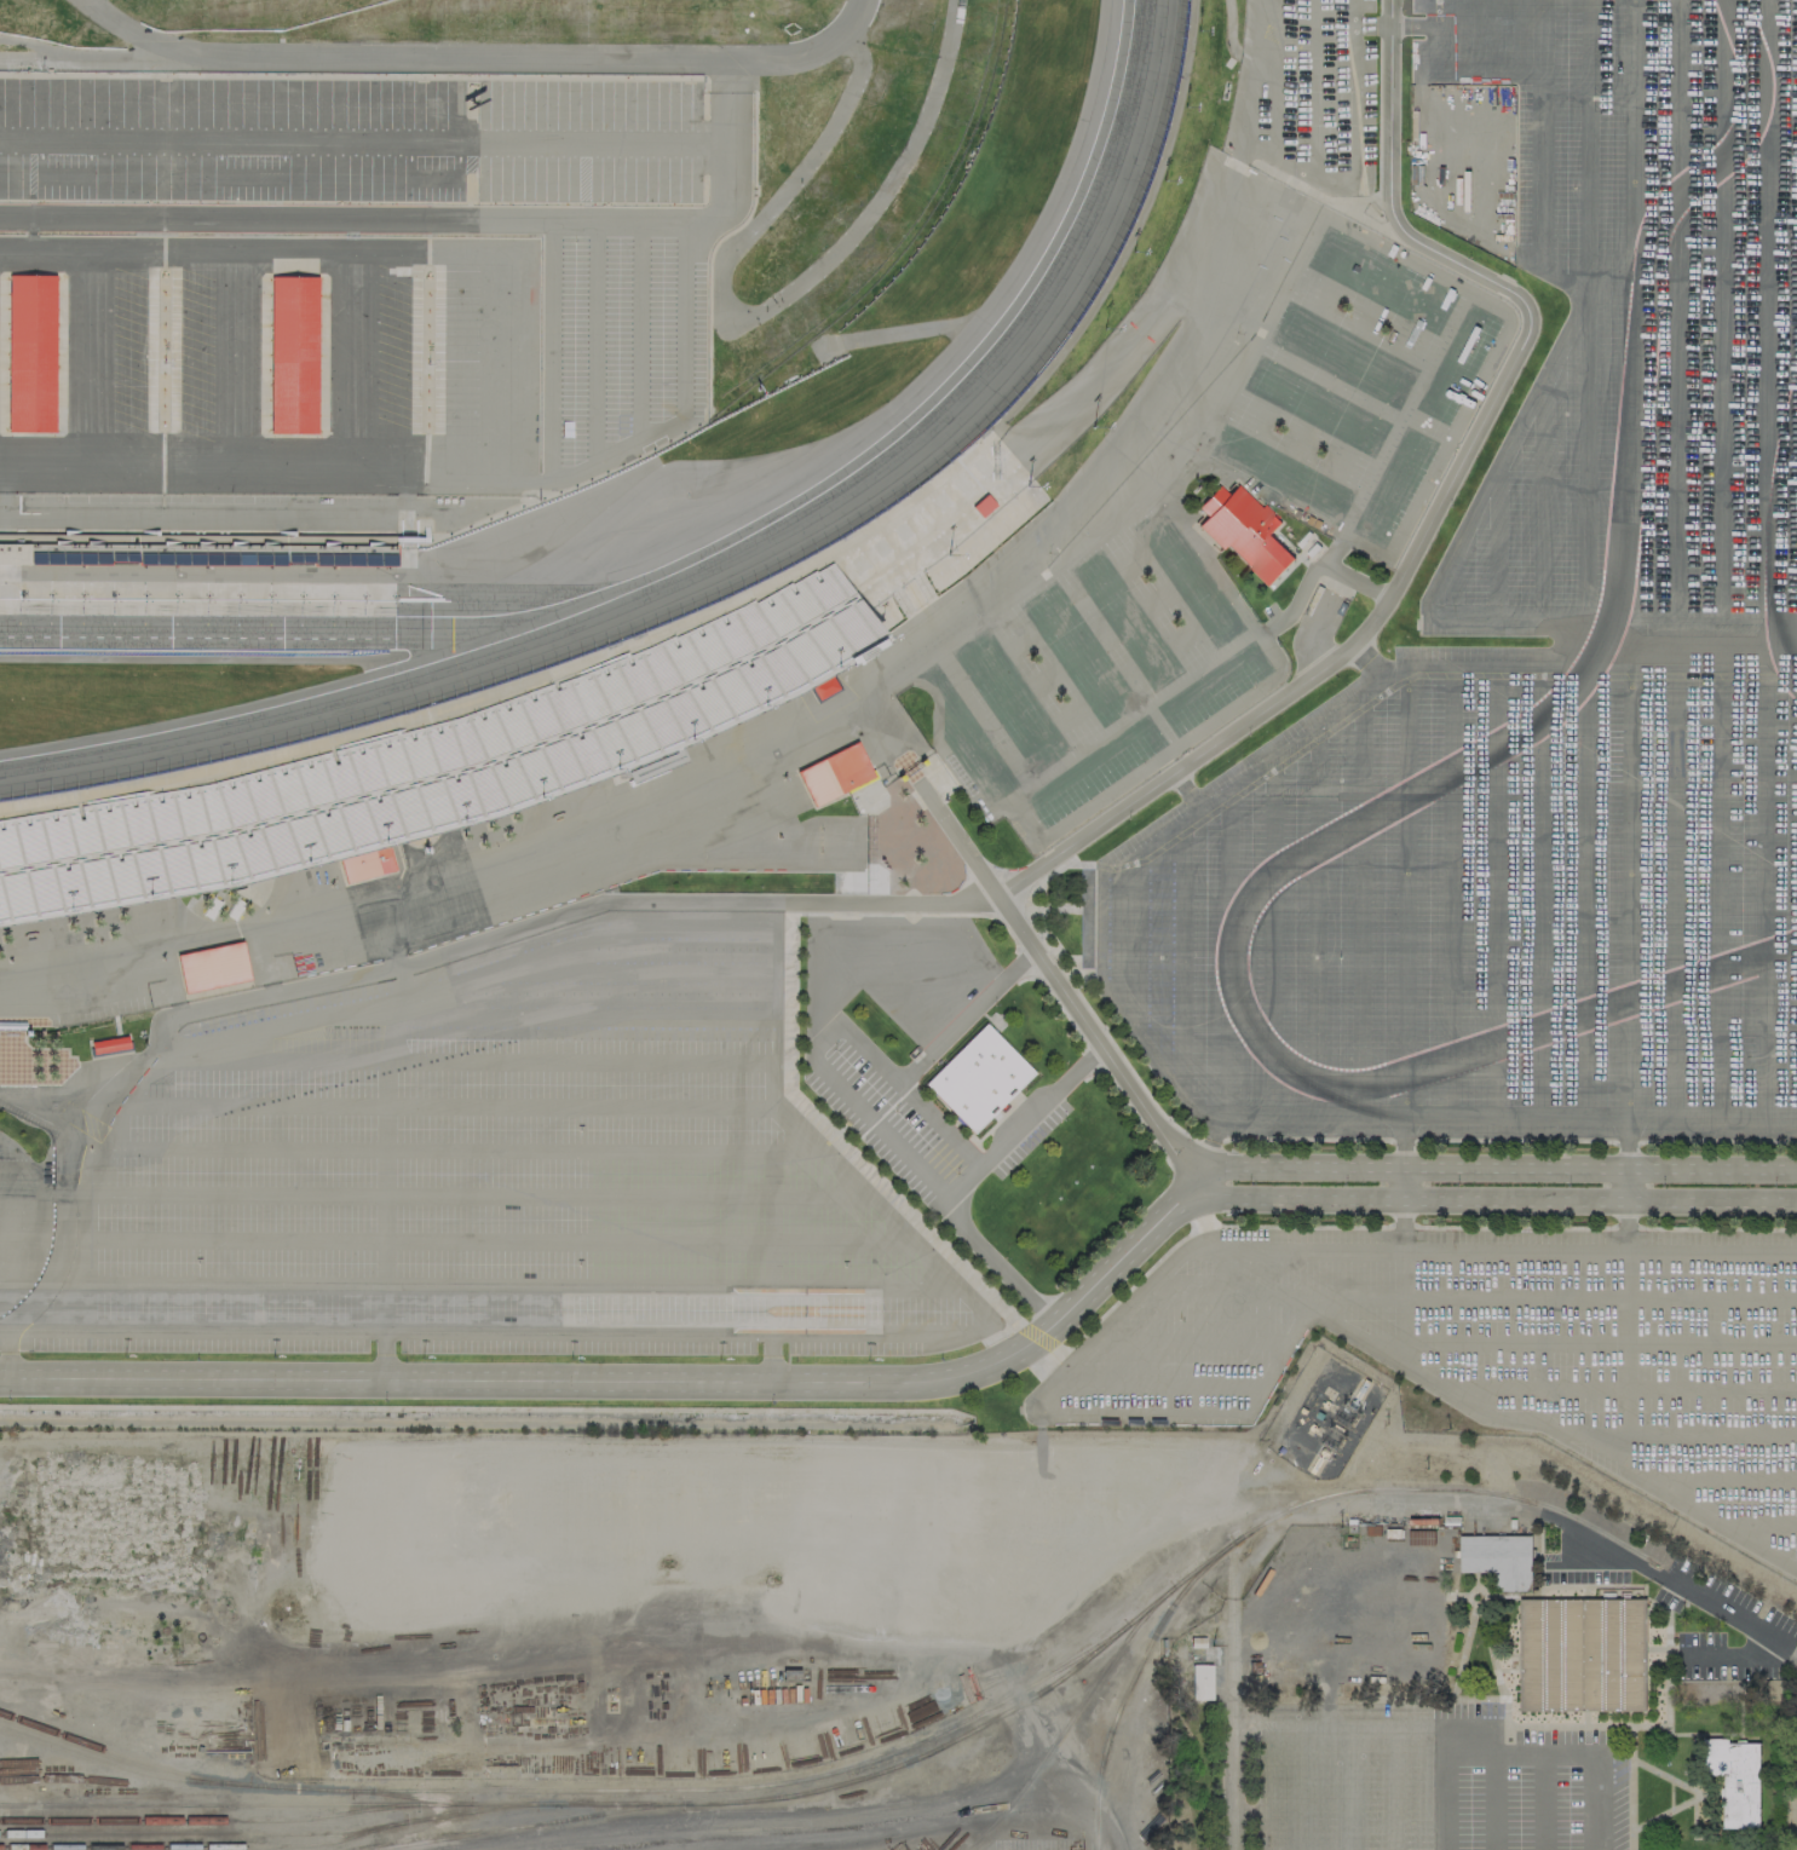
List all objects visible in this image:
road: (1334, 24)
road: (1399, 25)
road: (91, 53)
road: (479, 57)
road: (349, 74)
road: (702, 83)
road: (1274, 85)
parking lot: (1304, 91)
road: (465, 108)
parking lot: (349, 138)
road: (362, 142)
road: (1304, 159)
road: (29, 169)
road: (466, 172)
road: (581, 173)
road: (1296, 173)
road: (64, 174)
road: (250, 177)
road: (433, 178)
road: (405, 201)
road: (439, 217)
road: (29, 232)
road: (402, 234)
road: (350, 235)
road: (528, 236)
road: (29, 240)
road: (350, 242)
road: (516, 243)
road: (367, 248)
road: (765, 307)
road: (682, 319)
road: (937, 325)
road: (638, 329)
parking lot: (624, 338)
road: (593, 340)
parking lot: (160, 348)
road: (547, 348)
parking lot: (424, 350)
building: (28, 355)
building: (290, 355)
road: (85, 362)
road: (230, 363)
road: (350, 363)
road: (425, 364)
road: (160, 381)
road: (610, 455)
road: (267, 478)
road: (1, 496)
road: (404, 500)
road: (1438, 503)
road: (221, 518)
building: (1242, 531)
road: (403, 540)
building: (197, 551)
raceway: (722, 569)
road: (1, 575)
road: (232, 581)
raceway: (1781, 592)
raceway: (284, 633)
parking lot: (1540, 676)
building: (820, 684)
building: (517, 720)
building: (831, 772)
road: (1182, 783)
raceway: (1416, 789)
building: (363, 860)
road: (837, 914)
road: (910, 915)
road: (710, 924)
road: (933, 926)
road: (399, 964)
building: (211, 966)
road: (630, 968)
road: (1056, 982)
road: (964, 1016)
road: (392, 1038)
building: (106, 1043)
road: (865, 1053)
road: (220, 1062)
building: (1796, 1068)
building: (1733, 1071)
building: (975, 1076)
road: (1676, 1077)
road: (1630, 1084)
road: (1580, 1100)
road: (119, 1105)
road: (1688, 1113)
road: (100, 1135)
road: (463, 1148)
road: (106, 1168)
road: (1296, 1168)
parking lot: (496, 1171)
road: (1600, 1172)
road: (966, 1180)
road: (1404, 1183)
road: (1625, 1185)
road: (601, 1194)
road: (382, 1197)
road: (1493, 1197)
road: (499, 1240)
road: (768, 1241)
road: (1204, 1250)
road: (520, 1284)
road: (1468, 1296)
road: (1066, 1309)
road: (398, 1331)
road: (1354, 1336)
road: (1188, 1341)
road: (1600, 1342)
parking lot: (1490, 1347)
road: (8, 1350)
road: (382, 1355)
road: (768, 1356)
road: (453, 1379)
road: (1154, 1384)
road: (1617, 1387)
road: (1526, 1419)
road: (1626, 1448)
road: (1717, 1477)
railway: (1275, 1515)
building: (1499, 1558)
railway: (1203, 1563)
road: (1680, 1590)
building: (1583, 1655)
road: (1726, 1656)
parking lot: (1716, 1659)
building: (1199, 1682)
road: (1237, 1696)
railway: (1070, 1718)
railway: (958, 1739)
road: (1516, 1739)
railway: (121, 1754)
railway: (121, 1765)
building: (1734, 1779)
road: (1629, 1786)
railway: (712, 1788)
road: (1077, 1793)
road: (1669, 1793)
road: (1698, 1793)
road: (1487, 1794)
road: (1538, 1794)
railway: (410, 1796)
railway: (351, 1803)
railway: (208, 1820)
railway: (524, 1825)
road: (808, 1829)
railway: (267, 1832)
railway: (203, 1845)
road: (572, 1849)

